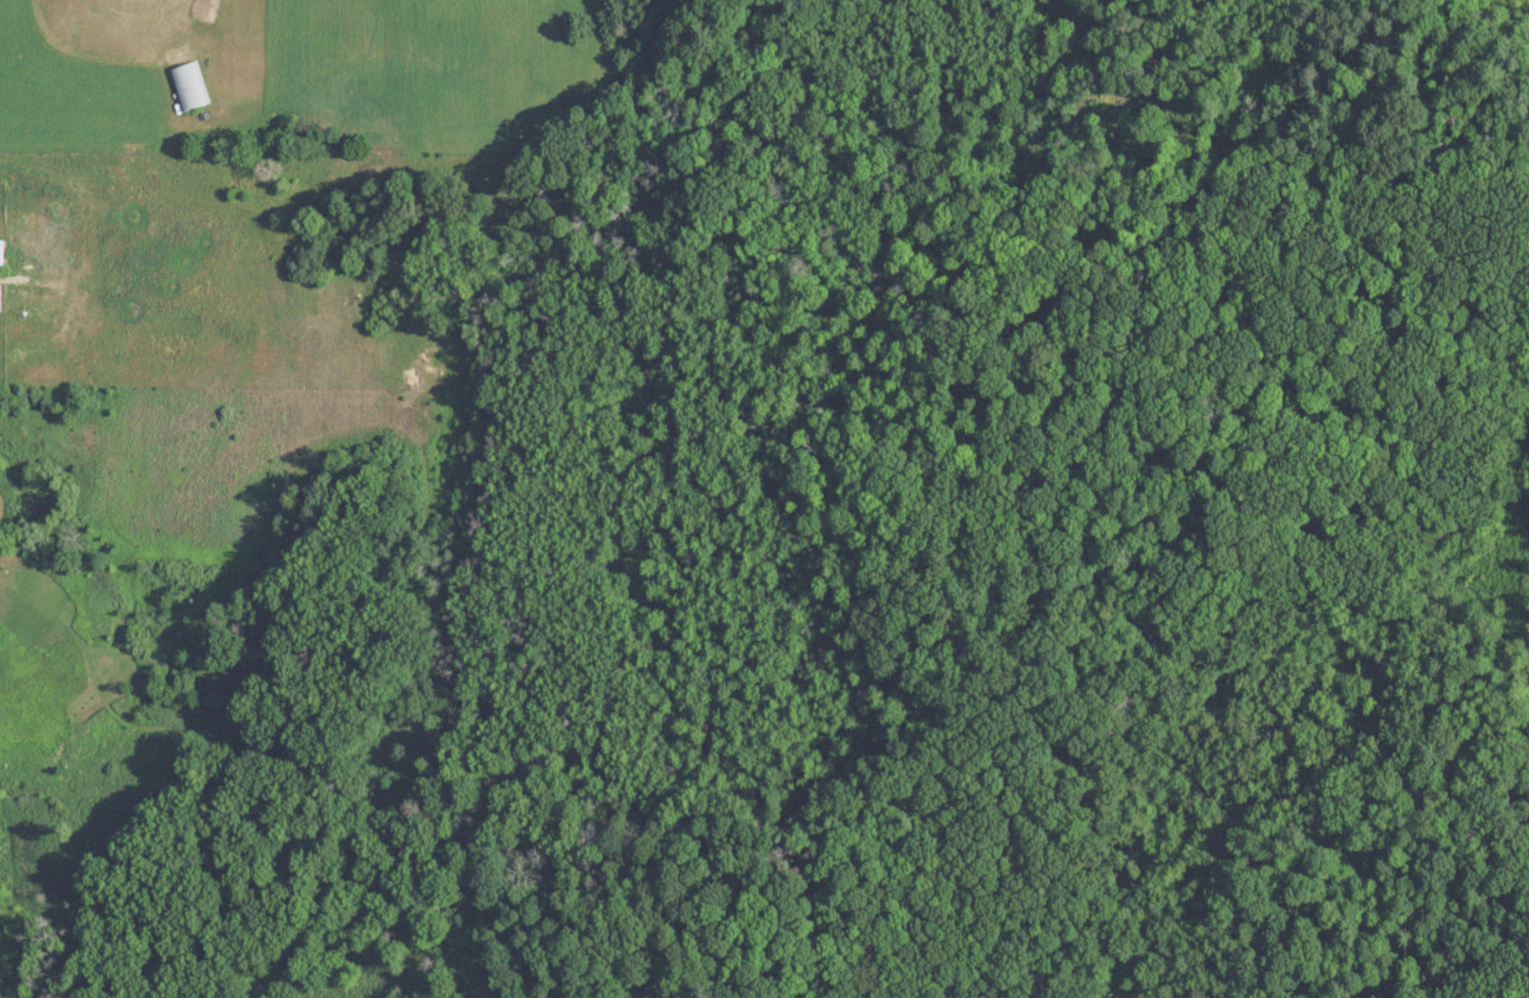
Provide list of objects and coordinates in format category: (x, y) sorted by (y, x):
building: (186, 87)
building: (0, 257)

